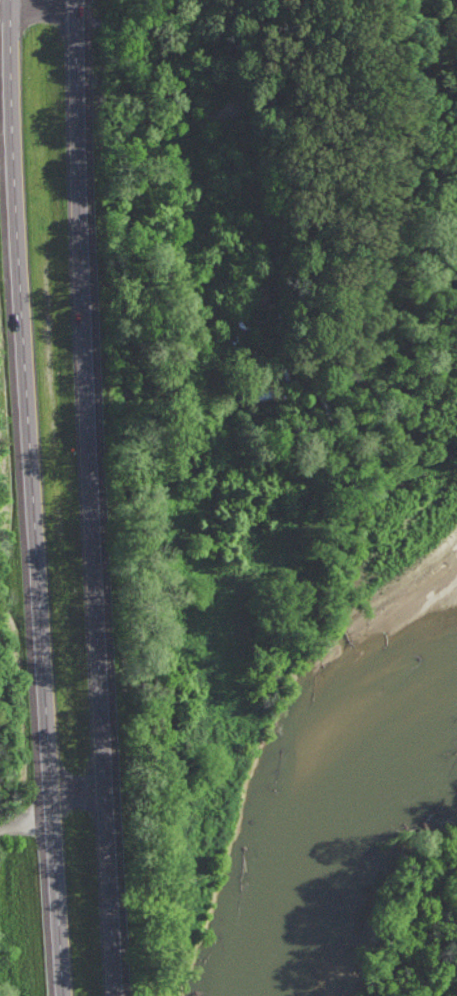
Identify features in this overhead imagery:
road: (1, 0)
road: (2, 0)
road: (39, 4)
road: (31, 498)
road: (95, 498)
river: (352, 761)
road: (52, 808)

